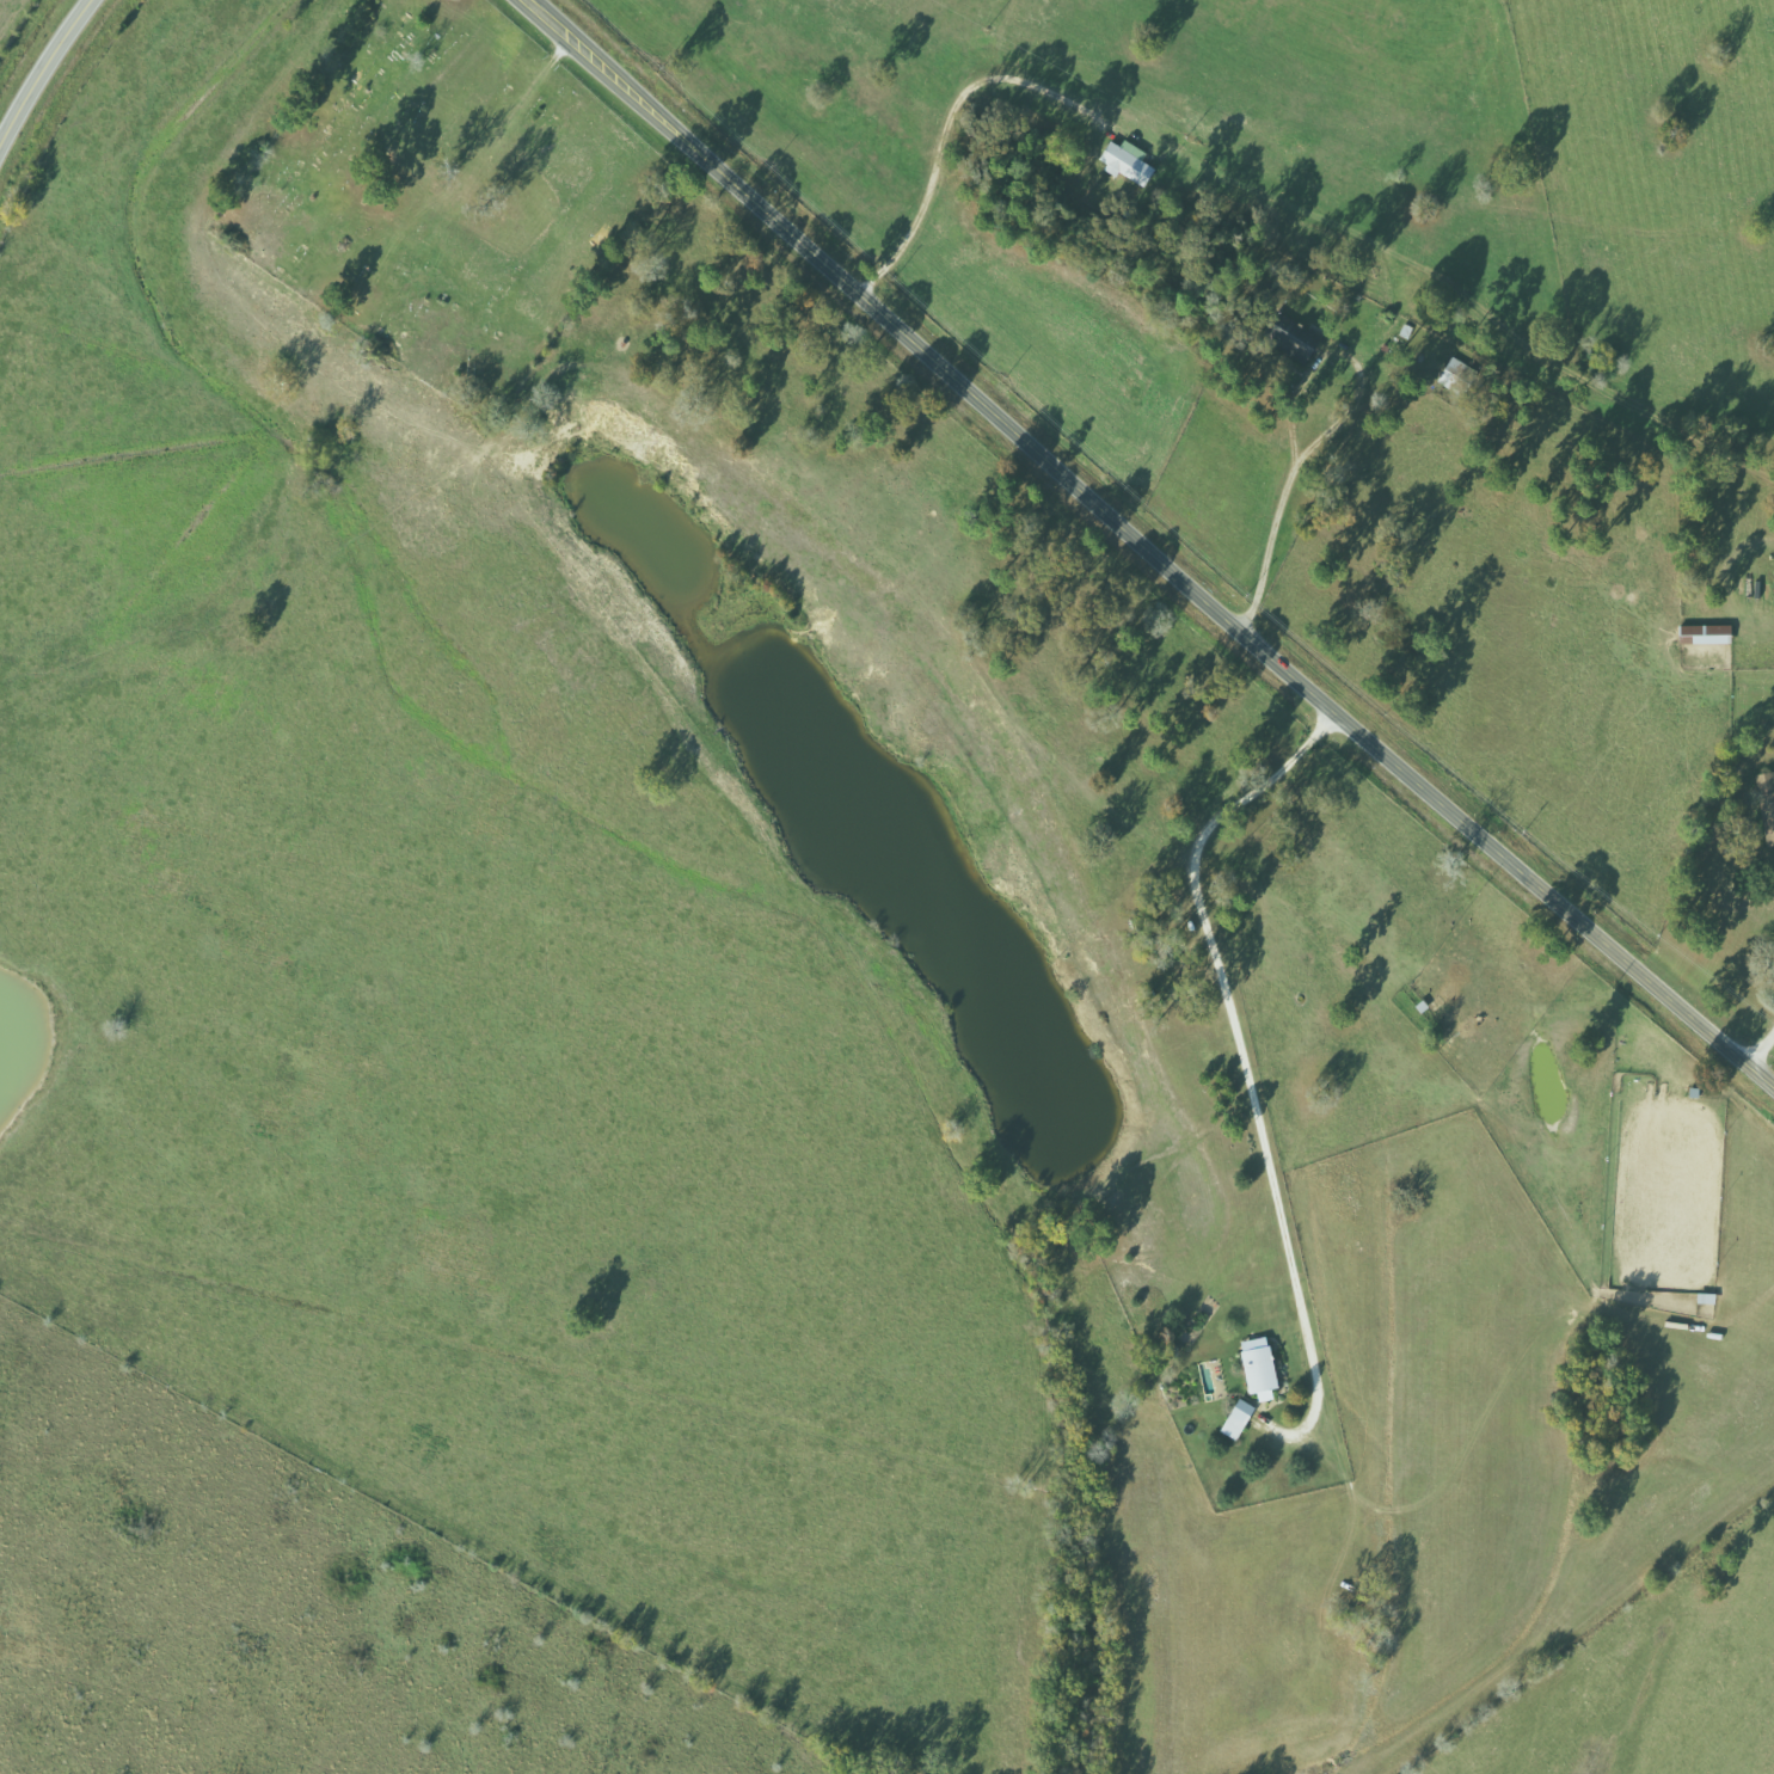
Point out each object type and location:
road: (44, 73)
building: (1131, 165)
park: (441, 195)
building: (1305, 342)
road: (1144, 550)
building: (1709, 633)
building: (1768, 800)
road: (1760, 1044)
building: (1263, 1367)
building: (1241, 1419)

